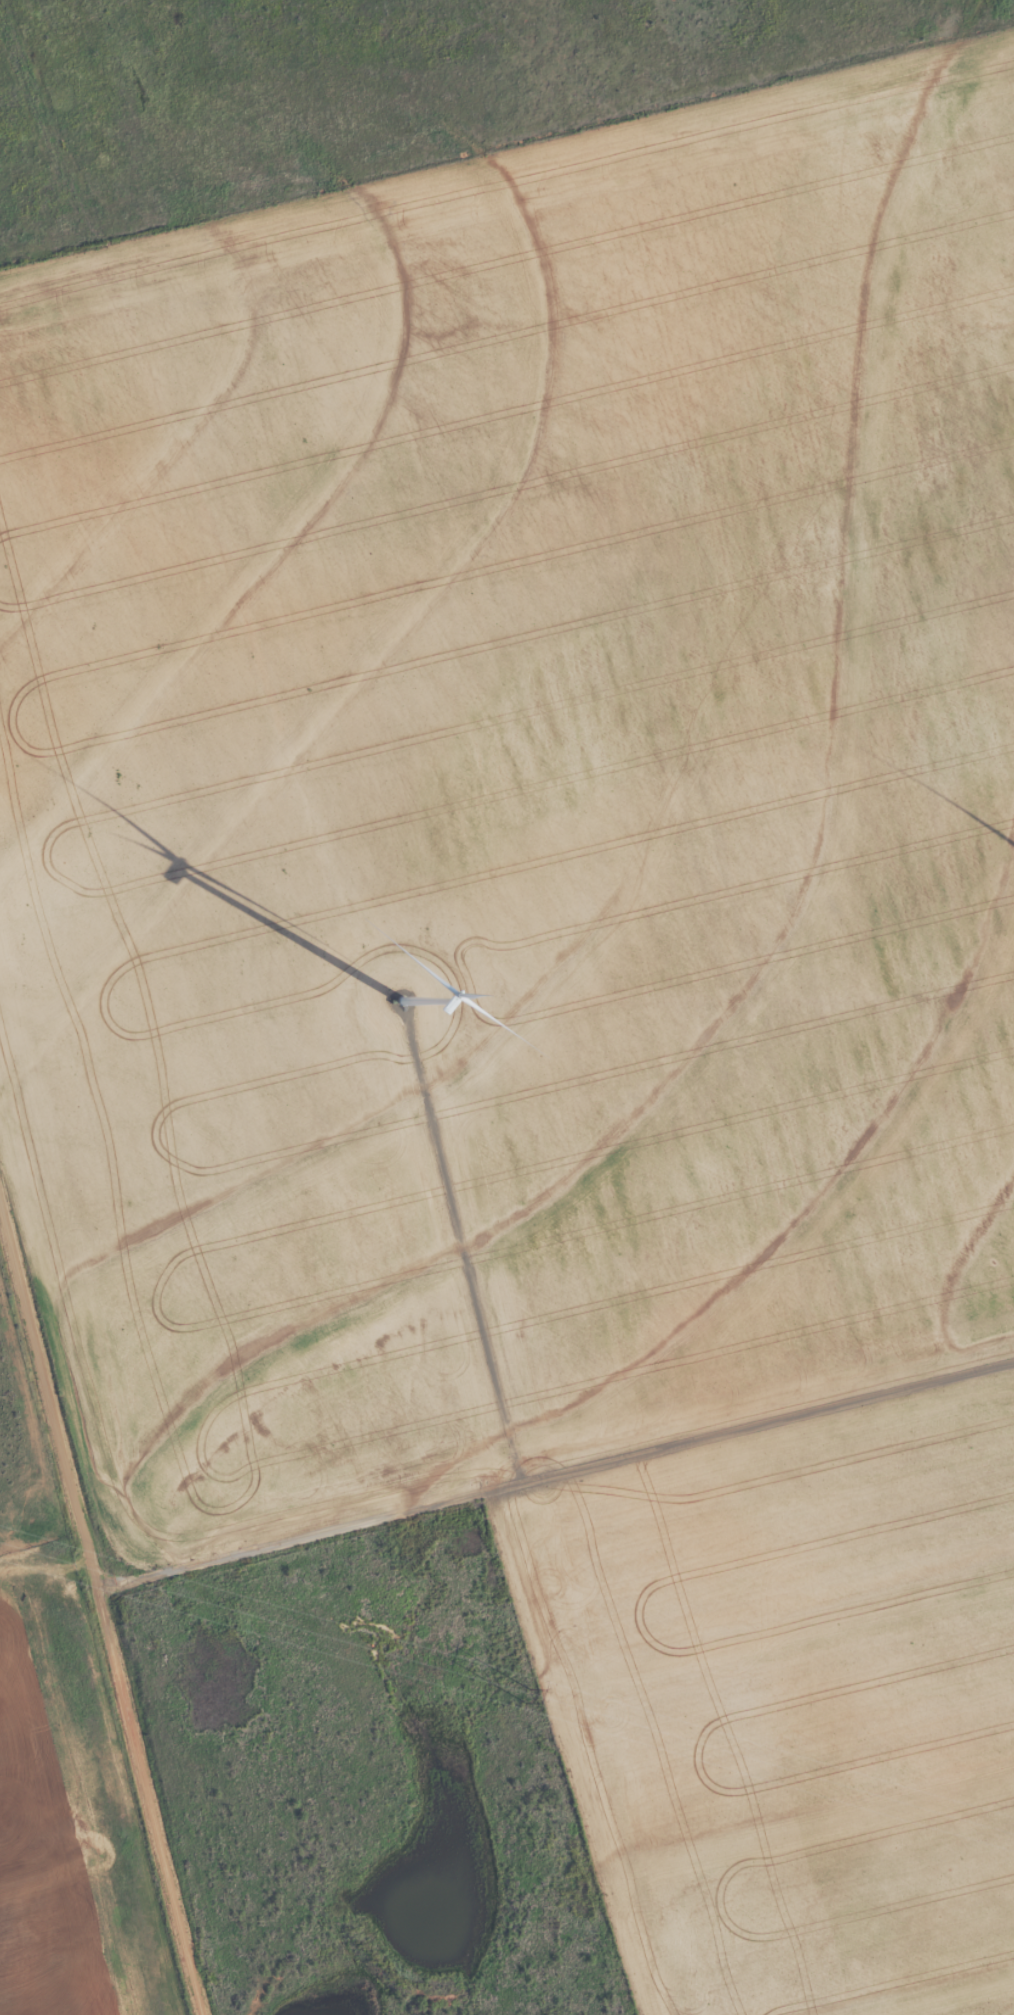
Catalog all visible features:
wind turbine: (398, 1006)
road: (102, 1609)
power tower: (526, 1695)

